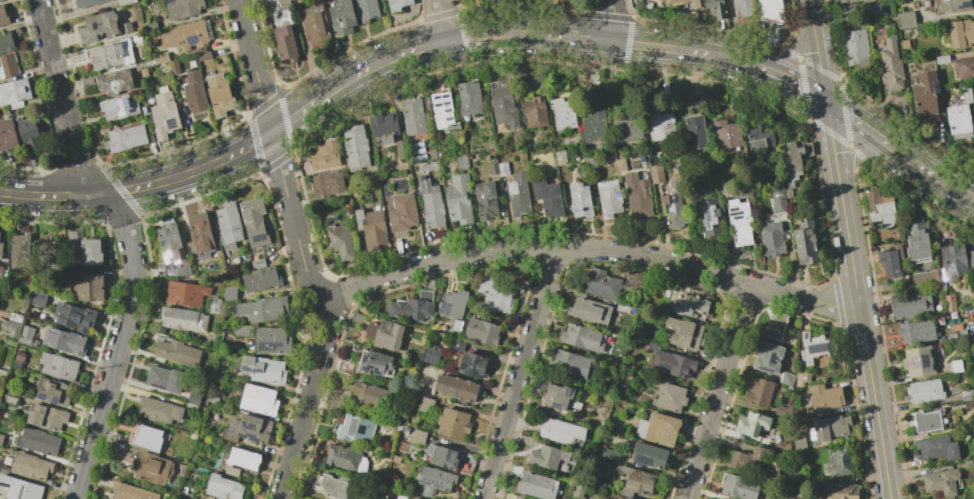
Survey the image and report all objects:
building: (0, 0)
building: (661, 0)
building: (866, 0)
building: (846, 1)
building: (126, 2)
building: (88, 3)
building: (285, 4)
building: (398, 4)
building: (695, 5)
building: (954, 5)
rooftop solar panel: (965, 5)
building: (184, 8)
building: (745, 8)
building: (717, 9)
building: (873, 9)
building: (366, 10)
building: (771, 10)
building: (845, 12)
building: (3, 16)
building: (342, 18)
road: (440, 19)
road: (612, 20)
building: (906, 20)
building: (315, 24)
building: (100, 26)
building: (152, 26)
building: (127, 28)
building: (961, 33)
road: (488, 34)
building: (186, 37)
rooftop solar panel: (192, 40)
building: (6, 42)
building: (285, 43)
building: (904, 44)
building: (856, 48)
road: (815, 49)
road: (787, 54)
building: (108, 56)
building: (204, 57)
building: (161, 58)
building: (942, 59)
building: (891, 64)
building: (8, 66)
building: (174, 67)
building: (964, 67)
building: (114, 83)
building: (15, 93)
building: (926, 94)
building: (218, 95)
building: (196, 96)
rooftop solar panel: (445, 96)
rooftop solar panel: (437, 97)
building: (468, 98)
traffic signals: (824, 98)
rooftop solar panel: (128, 103)
rooftop solar panel: (446, 104)
rooftop solar panel: (120, 105)
rooftop solar panel: (437, 105)
building: (503, 106)
building: (120, 107)
building: (442, 111)
rooftop solar panel: (447, 111)
building: (534, 112)
building: (561, 113)
building: (165, 116)
building: (412, 116)
building: (961, 116)
rooftop solar panel: (448, 119)
building: (383, 126)
building: (626, 126)
building: (660, 126)
building: (593, 127)
building: (694, 132)
building: (27, 134)
building: (726, 134)
building: (7, 135)
building: (126, 139)
building: (759, 143)
building: (355, 148)
building: (400, 149)
road: (862, 152)
building: (324, 155)
building: (560, 157)
building: (792, 159)
building: (461, 162)
building: (589, 162)
building: (492, 166)
building: (502, 168)
building: (656, 174)
building: (327, 184)
building: (517, 193)
road: (972, 195)
building: (637, 196)
building: (547, 197)
building: (608, 197)
building: (458, 198)
building: (779, 199)
building: (485, 200)
building: (579, 200)
building: (431, 205)
building: (674, 205)
building: (879, 208)
rooftop solar panel: (734, 210)
rooftop solar panel: (735, 213)
building: (401, 214)
rooftop solar panel: (707, 217)
building: (709, 217)
rooftop solar panel: (737, 218)
building: (739, 222)
building: (255, 223)
building: (229, 225)
building: (370, 227)
building: (199, 235)
building: (771, 238)
building: (70, 239)
building: (338, 241)
building: (917, 241)
road: (128, 242)
building: (804, 242)
building: (170, 244)
road: (301, 249)
building: (1, 250)
road: (587, 250)
building: (19, 251)
building: (49, 251)
building: (91, 252)
rooftop solar panel: (207, 253)
rooftop solar panel: (199, 254)
rooftop solar panel: (205, 258)
building: (952, 261)
building: (971, 262)
building: (888, 263)
building: (1, 271)
rooftop solar panel: (170, 272)
rooftop solar panel: (944, 273)
building: (260, 277)
building: (924, 279)
building: (600, 283)
building: (90, 288)
building: (186, 293)
building: (230, 293)
building: (493, 295)
road: (856, 298)
building: (39, 299)
building: (948, 302)
building: (453, 303)
building: (214, 305)
building: (910, 305)
building: (689, 306)
building: (412, 307)
building: (622, 307)
building: (262, 308)
rooftop solar panel: (459, 308)
building: (588, 311)
building: (74, 316)
building: (357, 317)
building: (16, 318)
building: (183, 319)
building: (773, 326)
building: (11, 328)
building: (243, 331)
building: (482, 331)
building: (916, 331)
building: (683, 333)
building: (384, 334)
building: (26, 336)
rooftop solar panel: (805, 336)
building: (582, 337)
building: (66, 341)
building: (272, 341)
building: (813, 347)
rooftop solar panel: (819, 348)
building: (177, 352)
building: (431, 354)
building: (20, 356)
building: (767, 357)
rooftop solar panel: (772, 359)
building: (917, 361)
building: (671, 362)
building: (375, 363)
building: (569, 364)
building: (473, 365)
building: (59, 367)
building: (343, 367)
building: (263, 370)
rooftop solar panel: (258, 371)
rooftop solar panel: (769, 371)
building: (2, 373)
road: (519, 374)
building: (164, 379)
building: (786, 379)
building: (456, 388)
road: (716, 390)
building: (924, 391)
building: (758, 392)
building: (53, 393)
building: (12, 396)
building: (824, 396)
building: (370, 397)
building: (668, 397)
building: (559, 398)
building: (213, 399)
building: (332, 399)
building: (259, 400)
building: (193, 403)
building: (424, 404)
building: (330, 407)
building: (161, 411)
building: (782, 411)
building: (47, 418)
building: (926, 421)
building: (750, 423)
building: (453, 424)
building: (827, 427)
rooftop solar panel: (250, 428)
building: (355, 428)
building: (657, 428)
building: (249, 429)
building: (561, 432)
building: (418, 436)
building: (147, 437)
rooftop solar panel: (251, 437)
building: (1, 439)
building: (39, 442)
building: (799, 444)
building: (936, 447)
building: (608, 454)
building: (648, 455)
building: (546, 456)
building: (342, 457)
building: (443, 458)
building: (244, 460)
building: (748, 460)
rooftop solar panel: (643, 461)
building: (836, 462)
building: (31, 467)
building: (152, 468)
building: (433, 481)
rooftop solar panel: (432, 482)
building: (636, 482)
building: (940, 482)
building: (331, 486)
building: (537, 486)
building: (224, 487)
building: (739, 487)
building: (20, 488)
building: (840, 491)
building: (132, 492)
building: (415, 498)
building: (517, 498)
building: (626, 498)
building: (795, 498)
building: (957, 498)
building: (962, 498)

